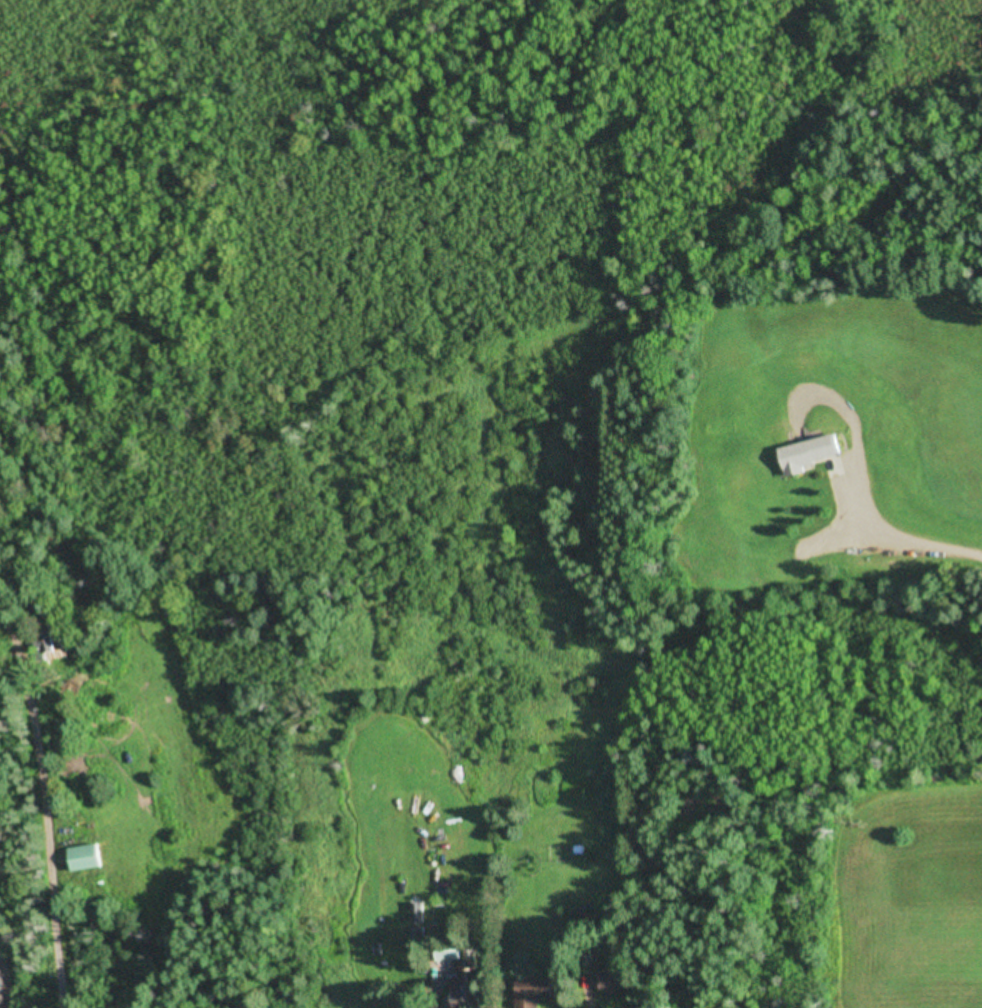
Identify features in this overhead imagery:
building: (811, 453)
building: (49, 648)
road: (33, 798)
building: (91, 857)
building: (453, 953)
building: (619, 979)
building: (475, 980)
building: (537, 991)

